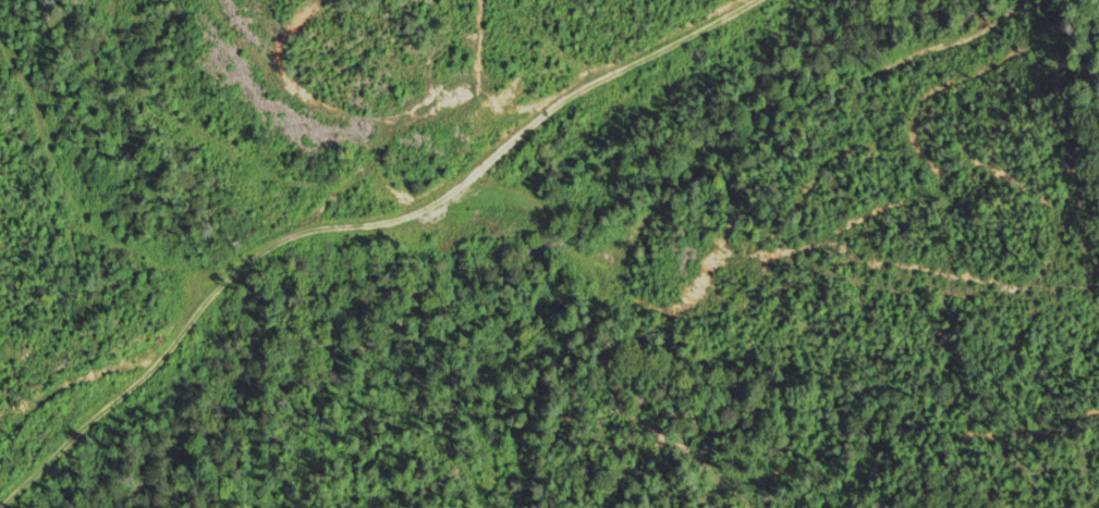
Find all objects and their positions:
road: (506, 258)

